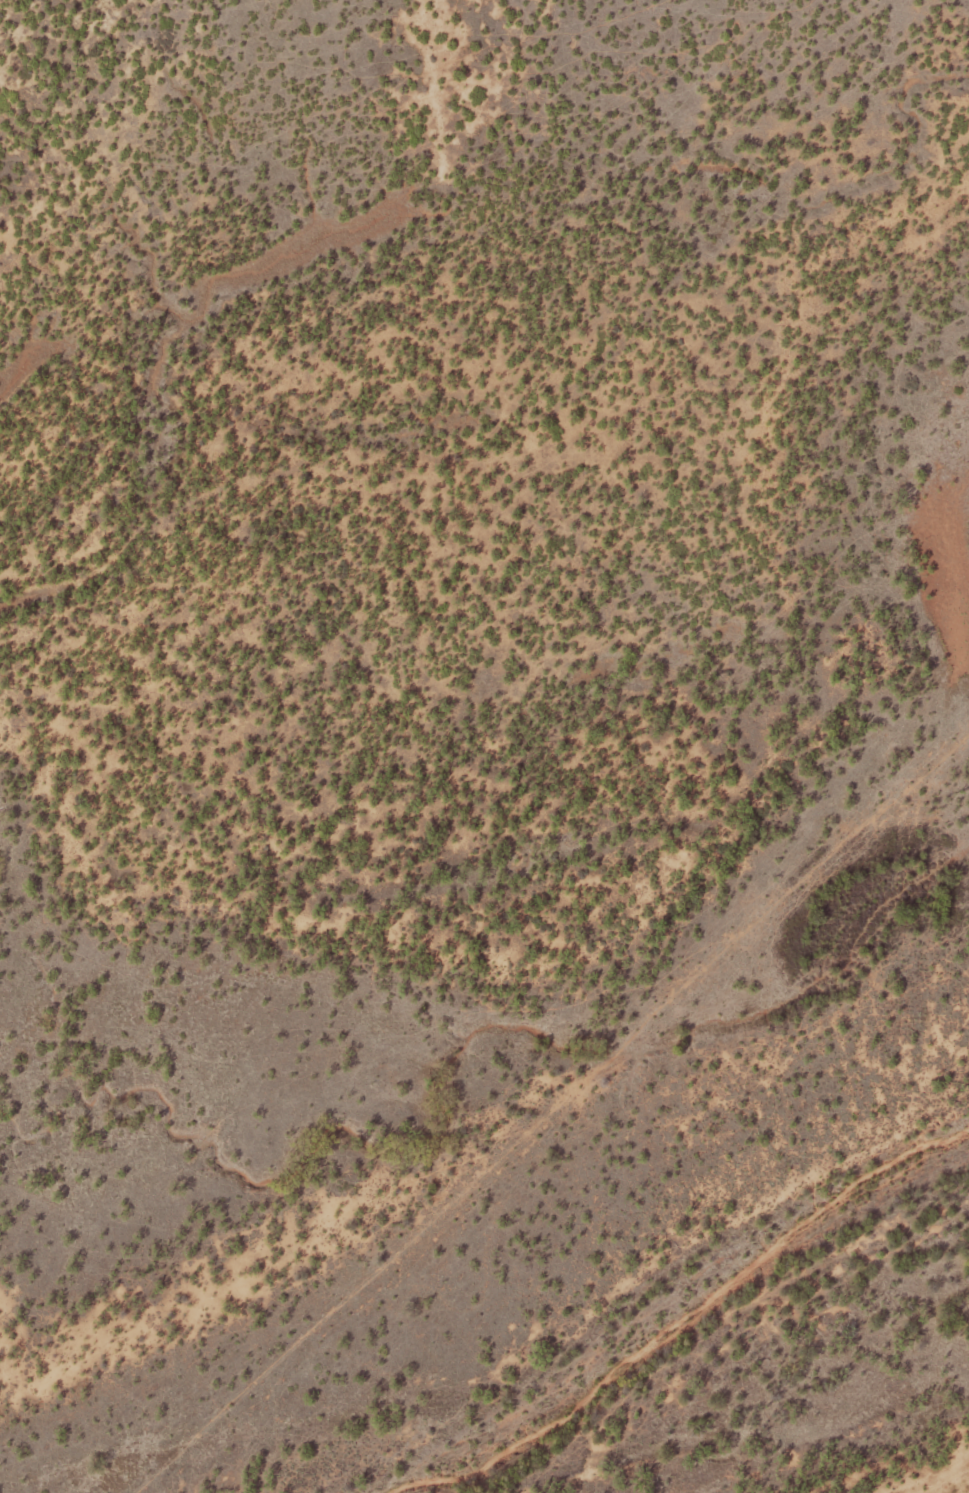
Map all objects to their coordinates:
river: (664, 1299)
road: (933, 1479)

